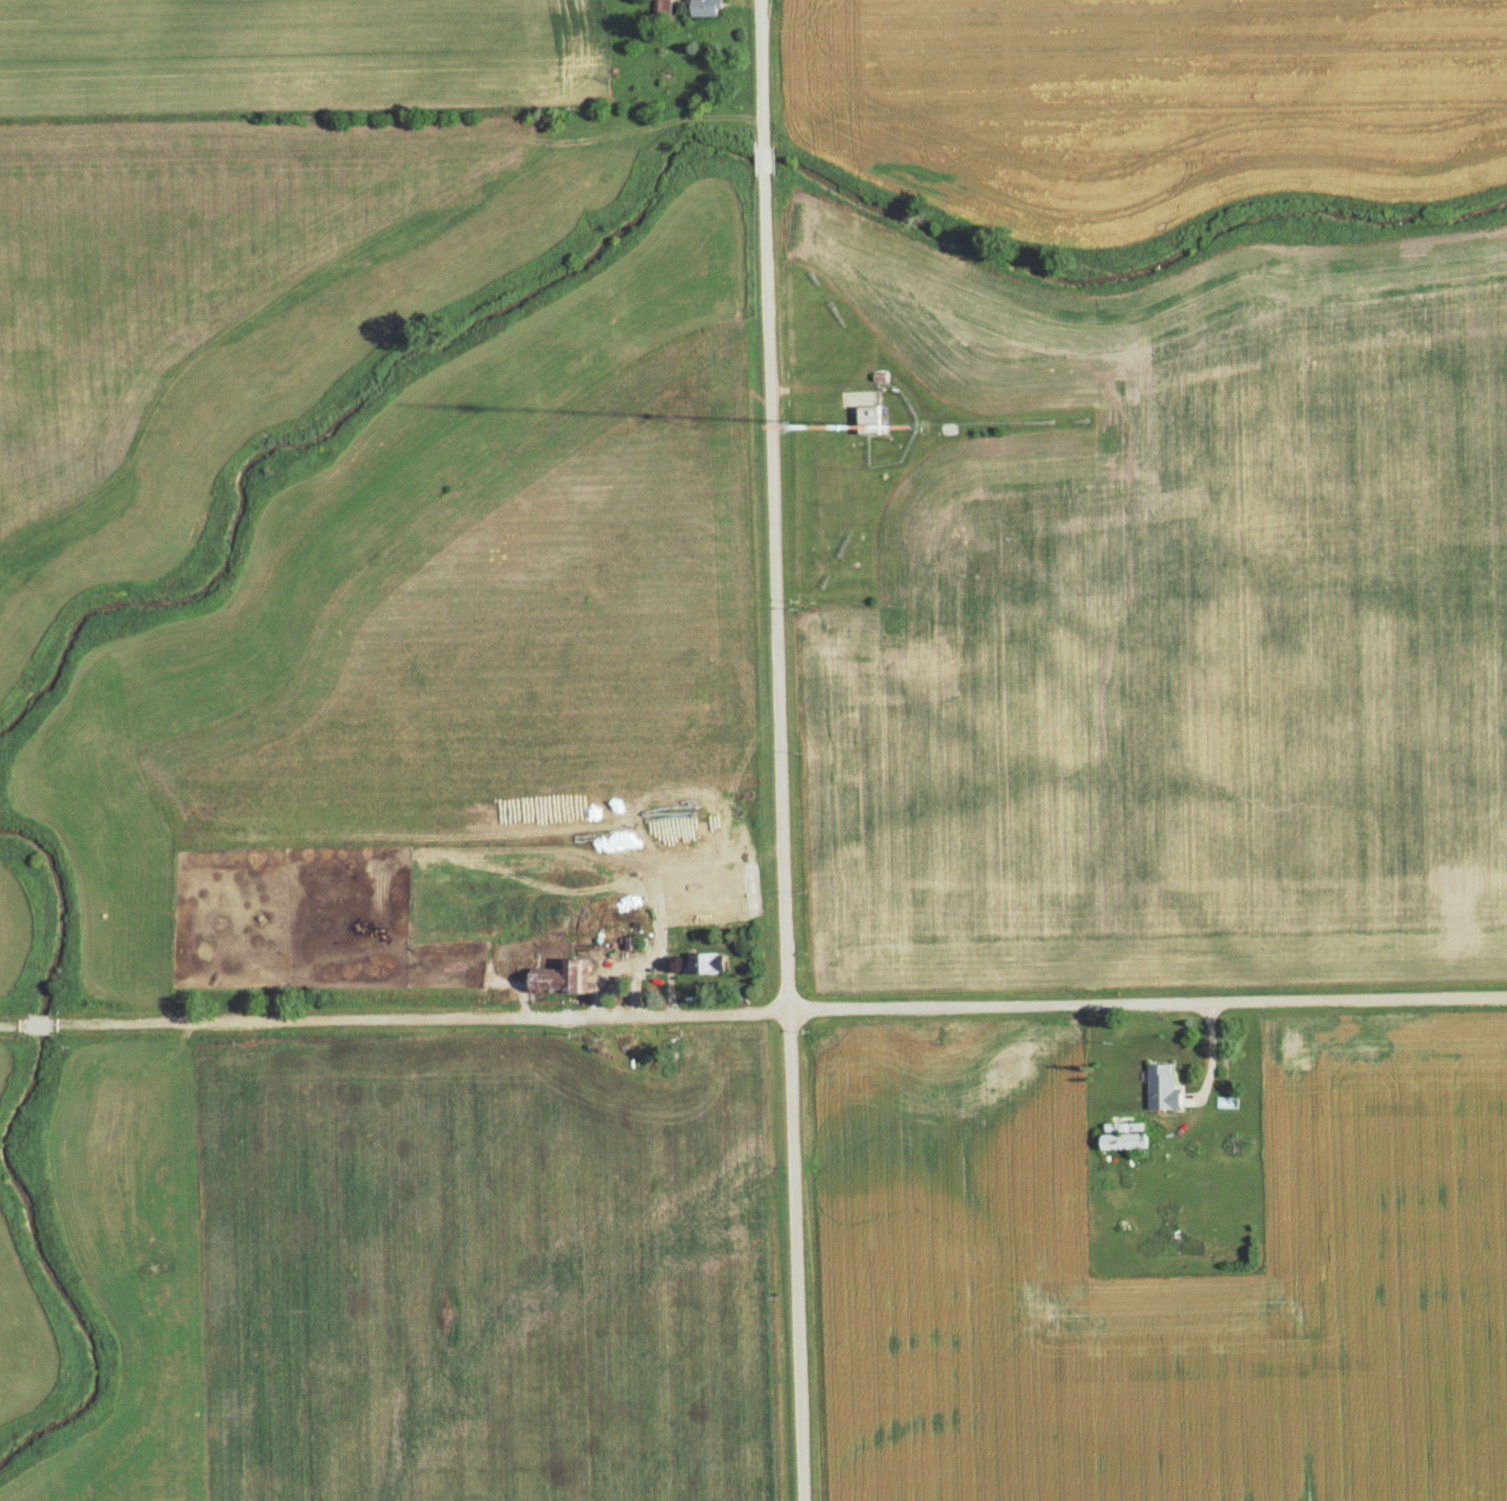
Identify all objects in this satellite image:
building: (699, 8)
road: (762, 66)
road: (766, 154)
road: (783, 839)
building: (701, 963)
building: (557, 978)
road: (778, 1011)
road: (13, 1024)
road: (38, 1024)
building: (1158, 1088)
building: (1120, 1137)

